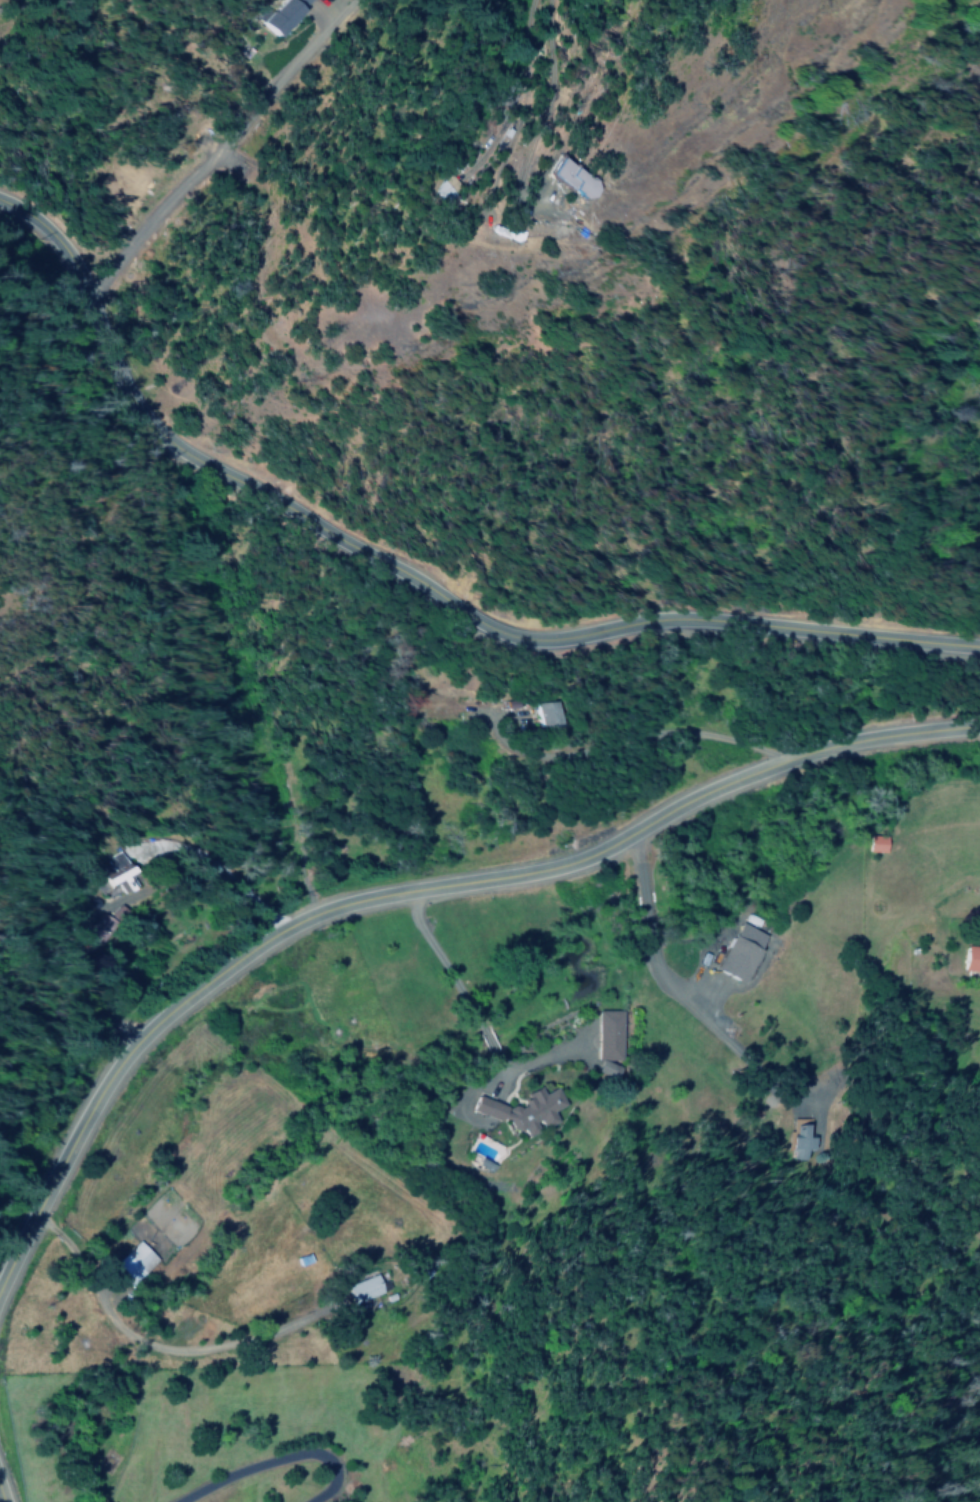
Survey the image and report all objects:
building: (283, 14)
road: (226, 147)
building: (581, 177)
road: (418, 575)
building: (543, 714)
building: (876, 843)
building: (117, 875)
road: (408, 889)
building: (97, 929)
building: (741, 952)
building: (971, 959)
building: (607, 1043)
building: (523, 1111)
building: (799, 1142)
building: (134, 1263)
building: (362, 1289)
road: (0, 1499)

